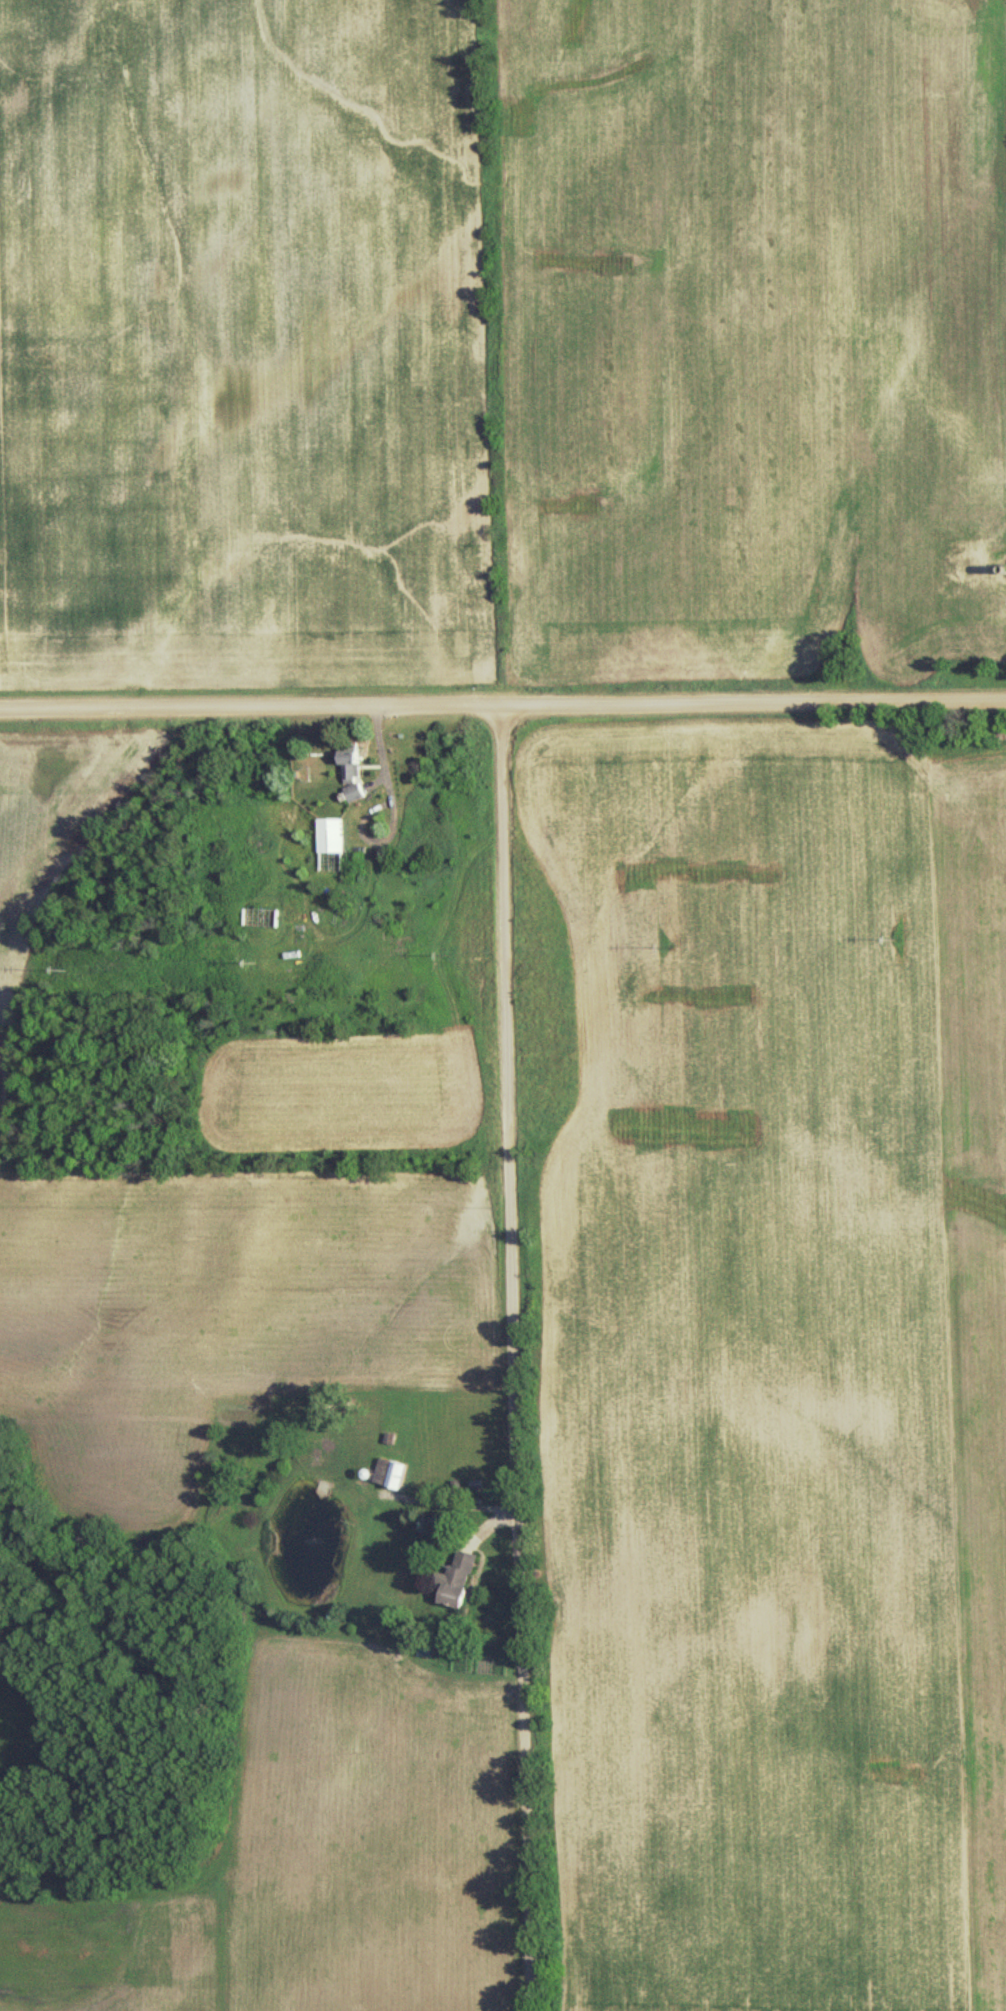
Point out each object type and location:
road: (503, 707)
building: (328, 834)
road: (503, 1359)
building: (385, 1472)
building: (453, 1579)

